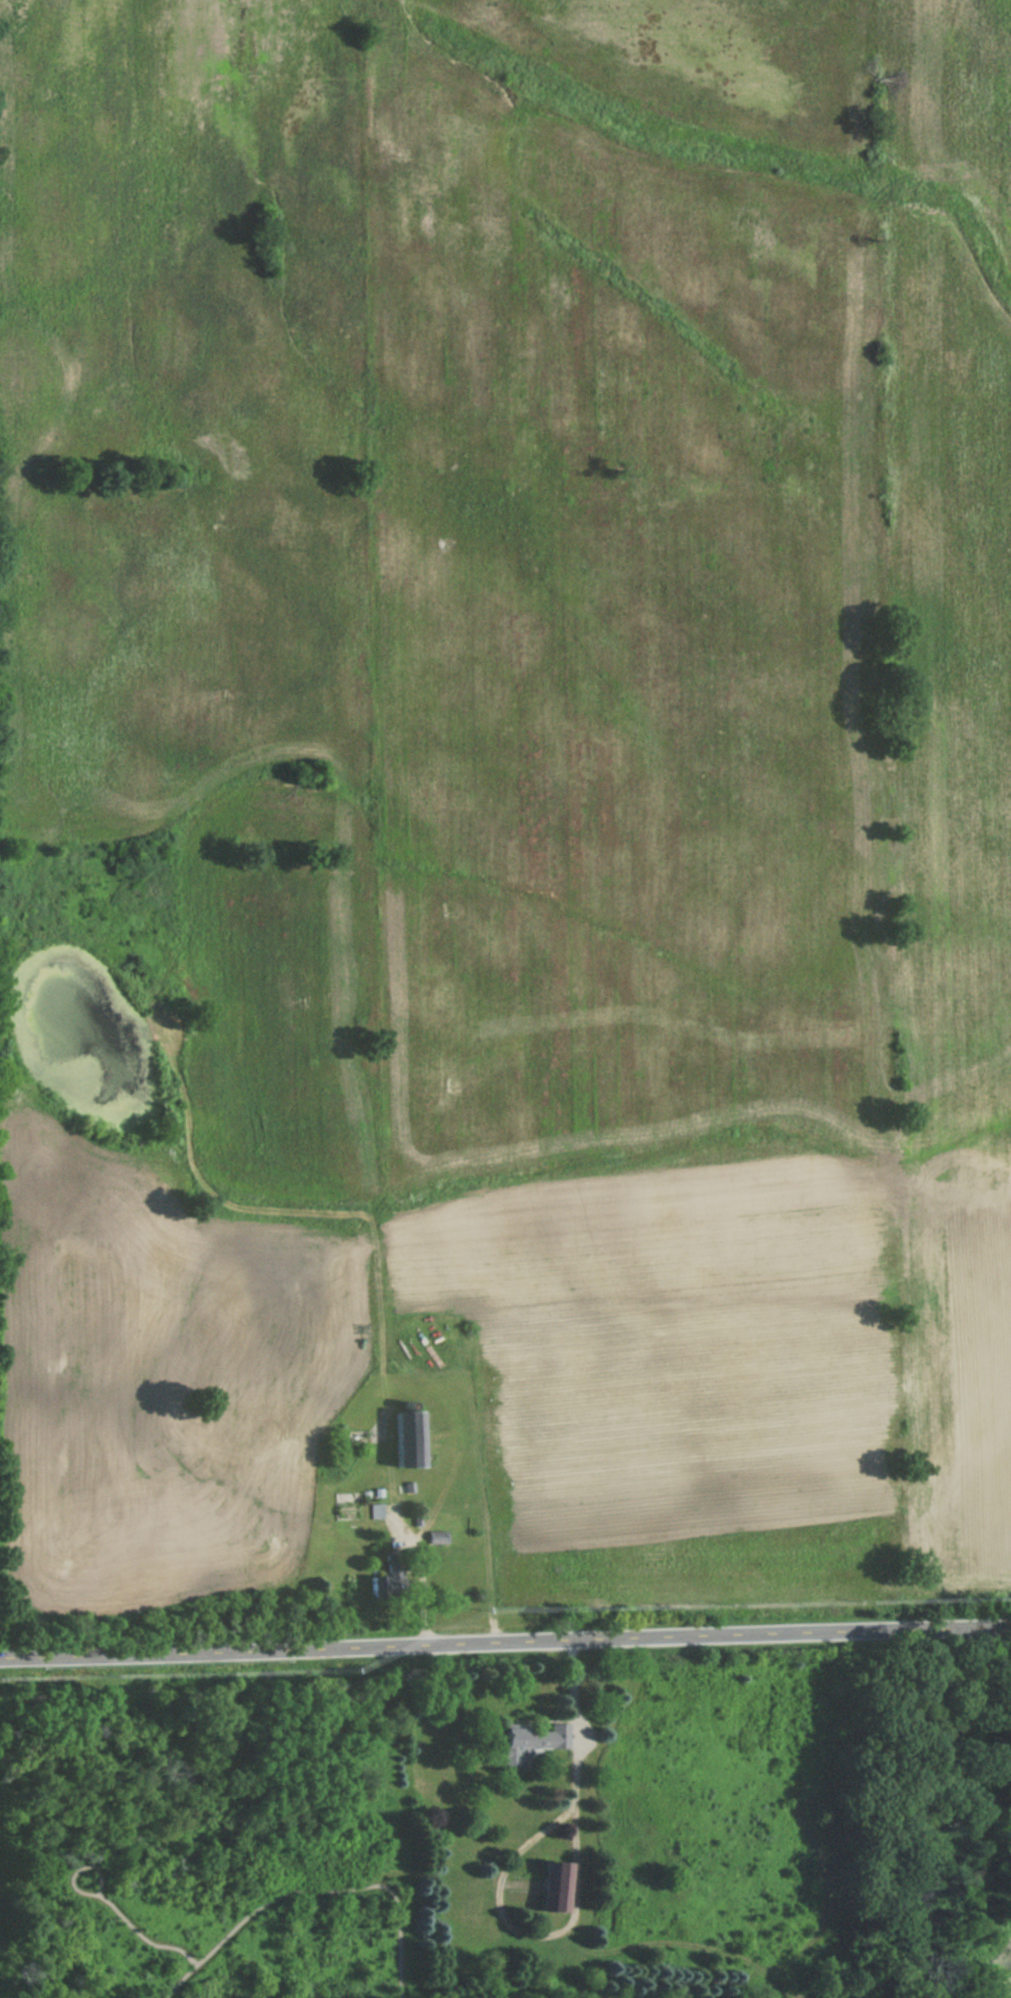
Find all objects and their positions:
crop: (951, 761)
crop: (447, 788)
building: (408, 1437)
building: (348, 1509)
building: (385, 1575)
road: (422, 1586)
road: (505, 1641)
building: (531, 1738)
building: (555, 1882)
road: (317, 1889)
road: (582, 1898)
road: (113, 1905)
road: (698, 1943)
road: (560, 1968)

